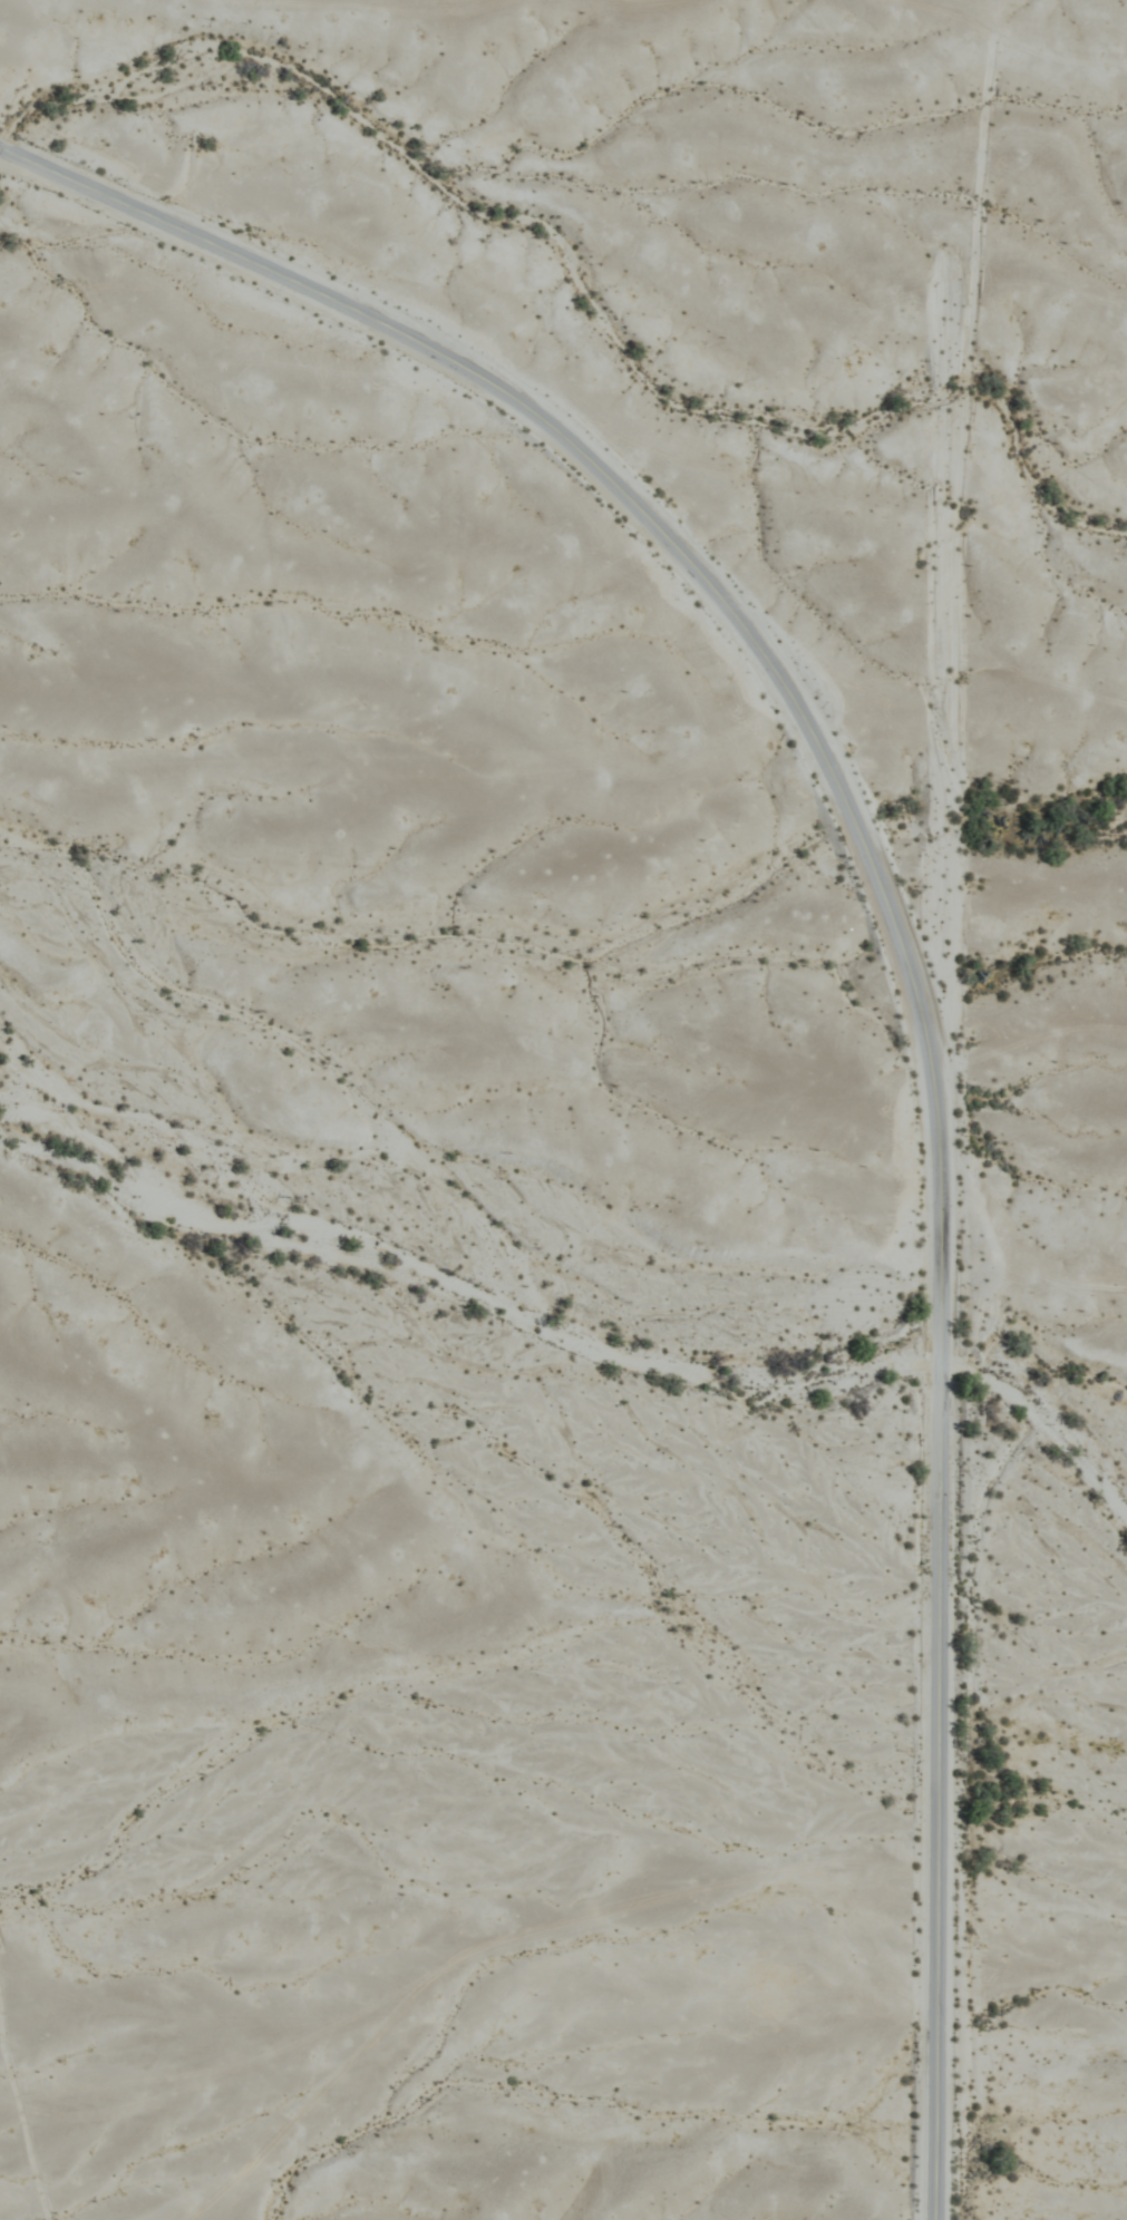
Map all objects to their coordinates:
road: (902, 960)

